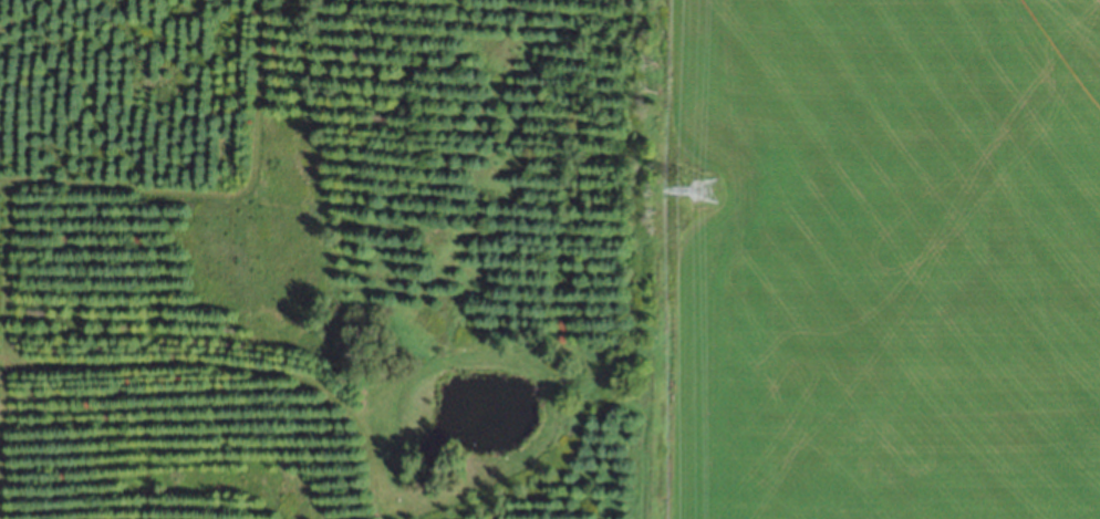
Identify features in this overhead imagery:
power tower: (704, 189)

